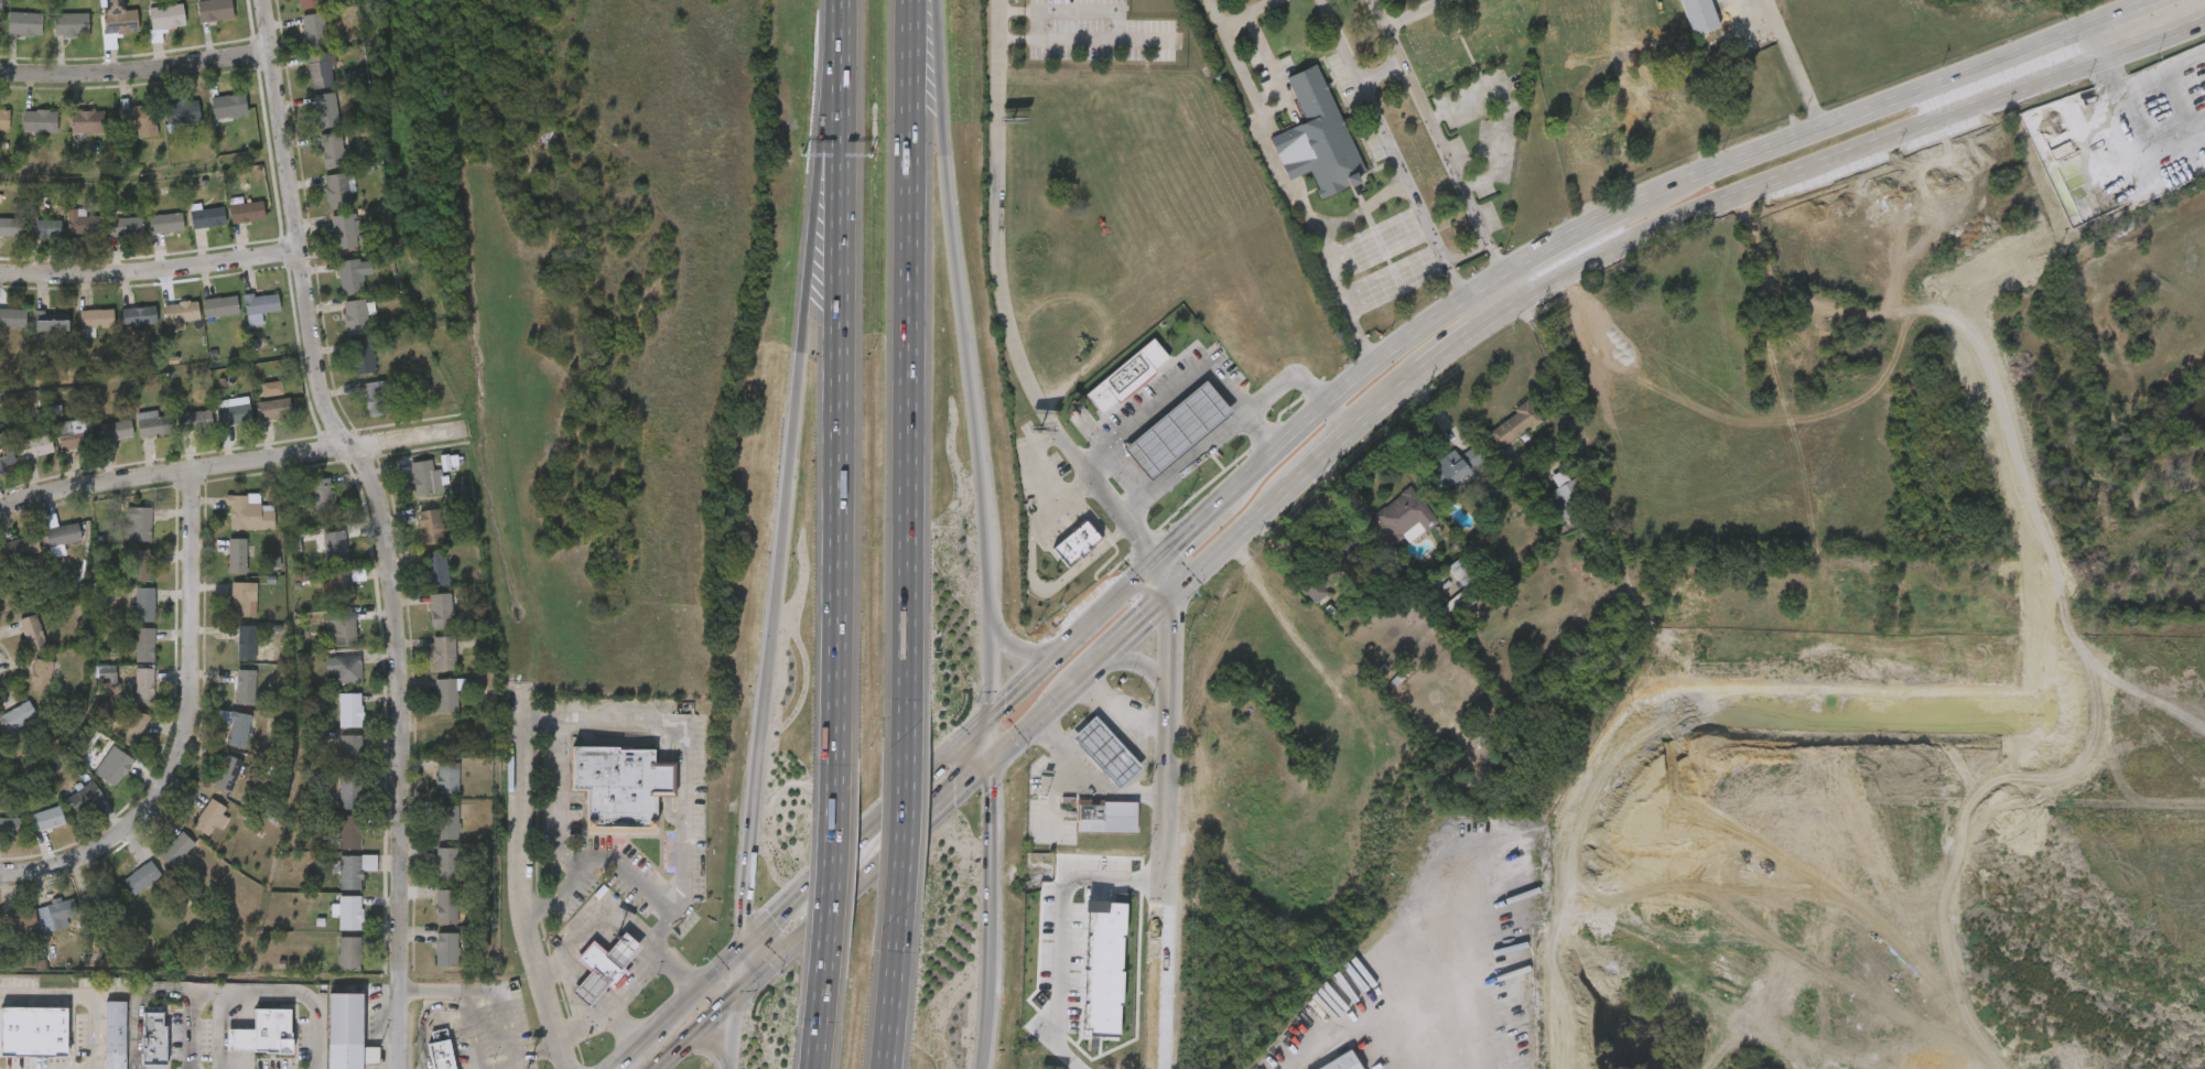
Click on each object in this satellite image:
building: (310, 3)
building: (1, 6)
building: (215, 10)
road: (1244, 11)
road: (1414, 13)
building: (167, 15)
building: (119, 18)
building: (24, 23)
building: (72, 24)
building: (1678, 25)
road: (1102, 28)
building: (314, 30)
road: (830, 33)
road: (1793, 65)
building: (320, 69)
road: (1273, 69)
road: (136, 72)
road: (1380, 72)
road: (1930, 87)
road: (2110, 91)
building: (229, 105)
park: (1514, 108)
building: (326, 109)
building: (182, 111)
road: (1968, 117)
building: (4, 118)
road: (1427, 118)
building: (40, 119)
building: (138, 119)
building: (89, 122)
road: (1382, 128)
building: (1318, 139)
building: (332, 149)
road: (1272, 160)
road: (819, 162)
building: (337, 190)
building: (247, 210)
road: (1362, 210)
building: (208, 216)
building: (165, 222)
road: (1603, 222)
building: (84, 225)
building: (126, 225)
building: (9, 226)
building: (44, 227)
building: (345, 230)
road: (1487, 244)
road: (1468, 253)
road: (2032, 258)
road: (1499, 261)
road: (1448, 262)
road: (150, 269)
road: (1996, 270)
building: (353, 274)
road: (1538, 294)
road: (1467, 300)
road: (1002, 303)
building: (261, 304)
building: (220, 305)
building: (182, 311)
building: (139, 315)
building: (355, 315)
building: (12, 316)
building: (96, 317)
building: (52, 322)
road: (1354, 326)
road: (1365, 352)
building: (361, 355)
building: (1804, 356)
road: (968, 357)
road: (1375, 363)
building: (1771, 366)
road: (909, 367)
building: (1125, 378)
building: (272, 389)
building: (377, 397)
road: (1241, 406)
building: (273, 407)
road: (1437, 411)
building: (235, 412)
road: (1144, 417)
building: (195, 419)
road: (1235, 421)
road: (1571, 421)
building: (153, 423)
building: (1514, 424)
building: (115, 429)
building: (1175, 431)
gas station: (1175, 431)
building: (72, 432)
road: (830, 433)
building: (34, 445)
building: (6, 454)
road: (233, 464)
road: (1791, 464)
building: (1453, 467)
road: (1037, 471)
building: (422, 476)
building: (321, 494)
building: (1567, 498)
road: (1061, 507)
building: (248, 510)
building: (1404, 515)
road: (1204, 516)
building: (141, 522)
road: (383, 525)
building: (430, 526)
building: (61, 531)
building: (1076, 544)
building: (22, 546)
building: (335, 547)
building: (237, 553)
traffic signals: (1154, 562)
building: (141, 564)
building: (436, 566)
road: (2093, 566)
building: (1463, 571)
road: (2051, 577)
road: (1060, 582)
building: (343, 585)
road: (1847, 589)
building: (1316, 590)
traffic signals: (1179, 594)
building: (244, 598)
building: (1826, 601)
road: (775, 602)
road: (1112, 603)
building: (1783, 603)
building: (145, 604)
building: (441, 608)
building: (1669, 617)
building: (344, 628)
building: (32, 631)
building: (247, 641)
building: (144, 644)
road: (1019, 651)
building: (443, 652)
road: (1684, 657)
road: (1146, 660)
building: (347, 668)
building: (41, 673)
building: (107, 673)
road: (1030, 680)
building: (144, 684)
building: (246, 685)
building: (446, 694)
building: (350, 710)
road: (1121, 710)
building: (18, 715)
traffic signals: (992, 715)
road: (638, 723)
road: (2107, 725)
building: (236, 726)
building: (136, 727)
road: (184, 727)
road: (992, 738)
building: (350, 749)
building: (1105, 749)
gas station: (1105, 749)
traffic signals: (992, 762)
building: (117, 767)
building: (228, 773)
building: (446, 778)
road: (1091, 779)
building: (620, 784)
road: (961, 790)
road: (1620, 790)
building: (350, 791)
building: (85, 797)
road: (897, 803)
road: (1165, 810)
building: (210, 816)
building: (1106, 816)
building: (45, 818)
road: (1623, 819)
building: (446, 821)
road: (897, 824)
building: (10, 825)
road: (519, 830)
building: (349, 832)
road: (1690, 842)
road: (1769, 845)
building: (176, 849)
building: (446, 864)
building: (355, 868)
building: (142, 877)
road: (862, 883)
road: (1687, 883)
road: (818, 890)
road: (562, 892)
building: (102, 895)
building: (446, 906)
building: (350, 911)
building: (57, 914)
road: (990, 915)
building: (19, 917)
road: (771, 919)
road: (1686, 930)
road: (573, 941)
building: (623, 948)
gas station: (623, 948)
traffic signals: (742, 948)
building: (446, 949)
building: (349, 952)
building: (602, 964)
building: (1104, 965)
road: (738, 973)
road: (765, 973)
road: (1668, 973)
building: (588, 987)
gas station: (588, 987)
road: (699, 987)
road: (887, 992)
road: (80, 994)
road: (262, 994)
road: (461, 997)
road: (501, 997)
traffic signals: (736, 1000)
road: (1067, 1001)
road: (136, 1004)
road: (599, 1012)
road: (1685, 1015)
road: (191, 1017)
road: (1603, 1021)
road: (422, 1022)
road: (1447, 1023)
road: (621, 1026)
road: (806, 1026)
building: (33, 1030)
building: (344, 1030)
road: (71, 1032)
building: (262, 1032)
building: (115, 1034)
road: (695, 1034)
road: (733, 1034)
building: (153, 1036)
road: (469, 1036)
road: (711, 1040)
road: (634, 1049)
building: (441, 1054)
road: (1684, 1060)
building: (1340, 1062)
road: (508, 1063)

